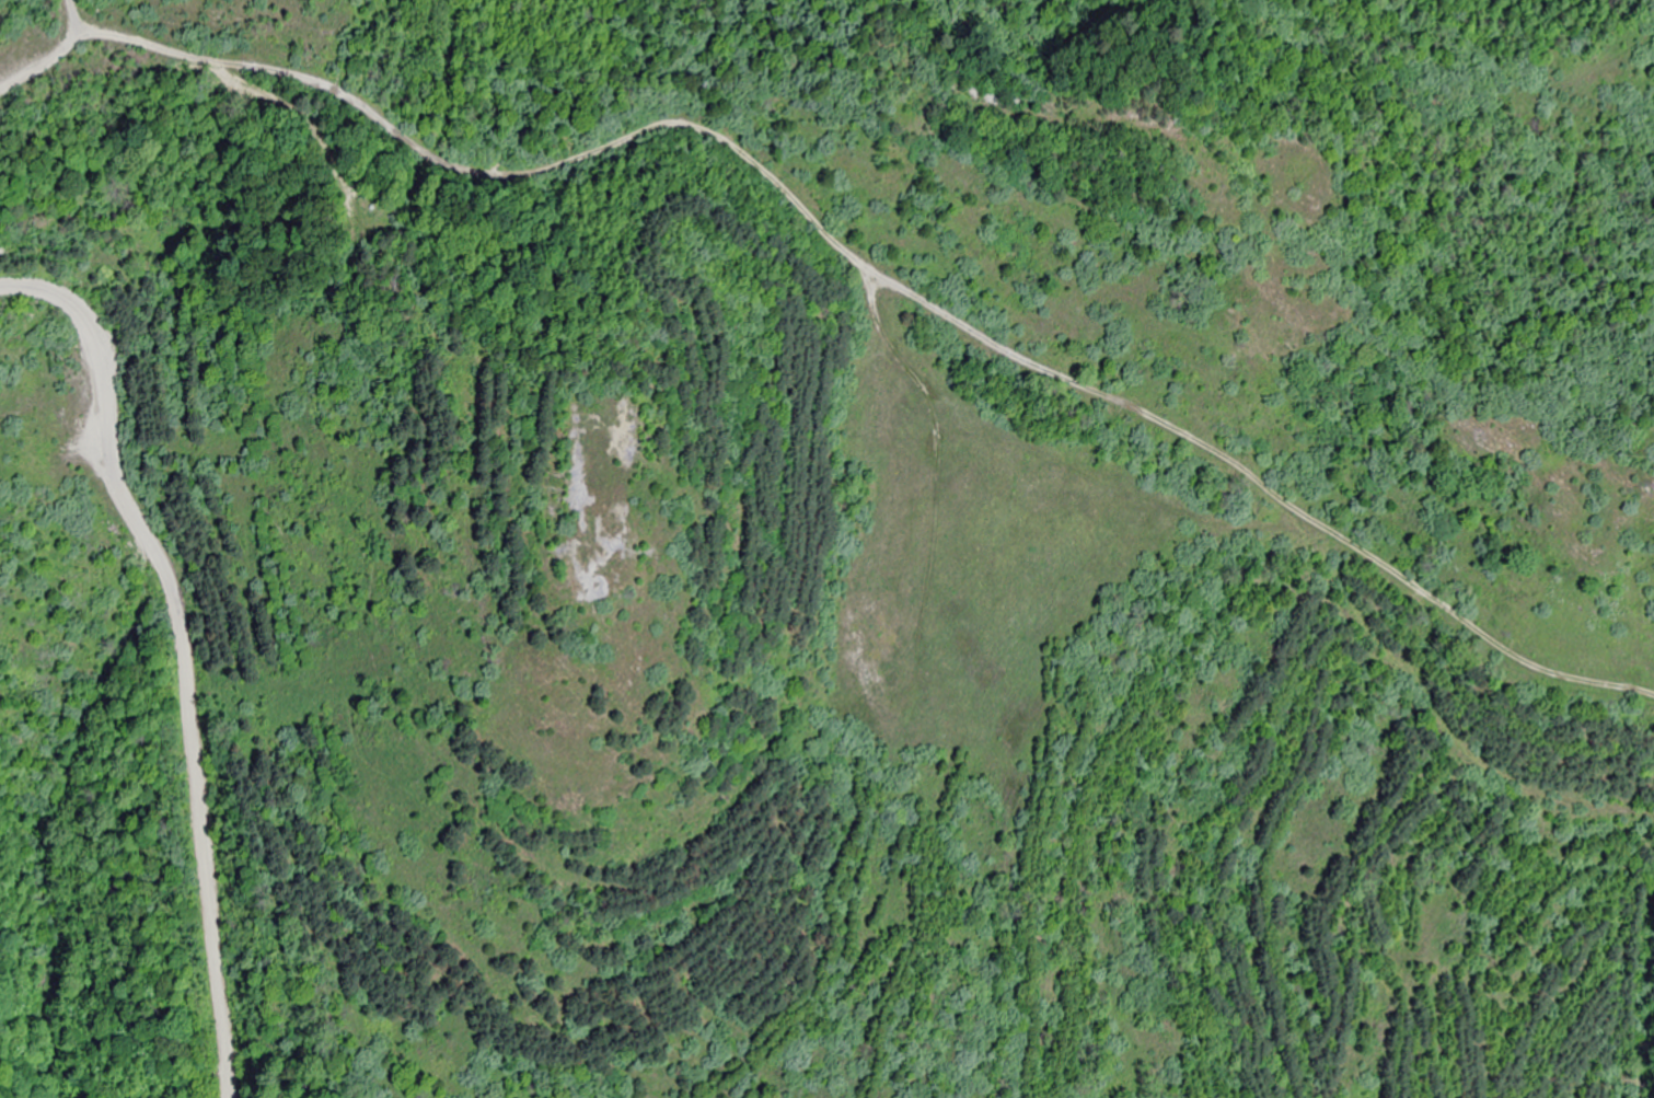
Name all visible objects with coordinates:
quarry: (334, 458)
road: (184, 585)

